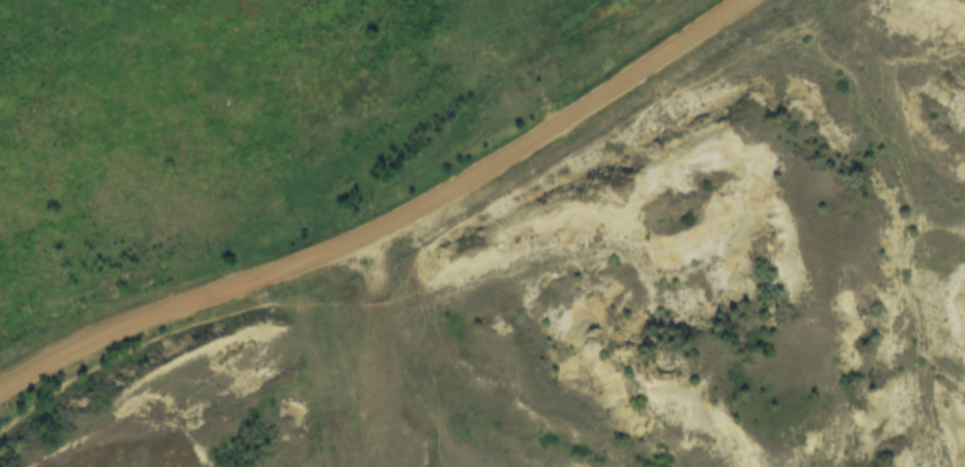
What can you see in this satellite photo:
road: (385, 225)

